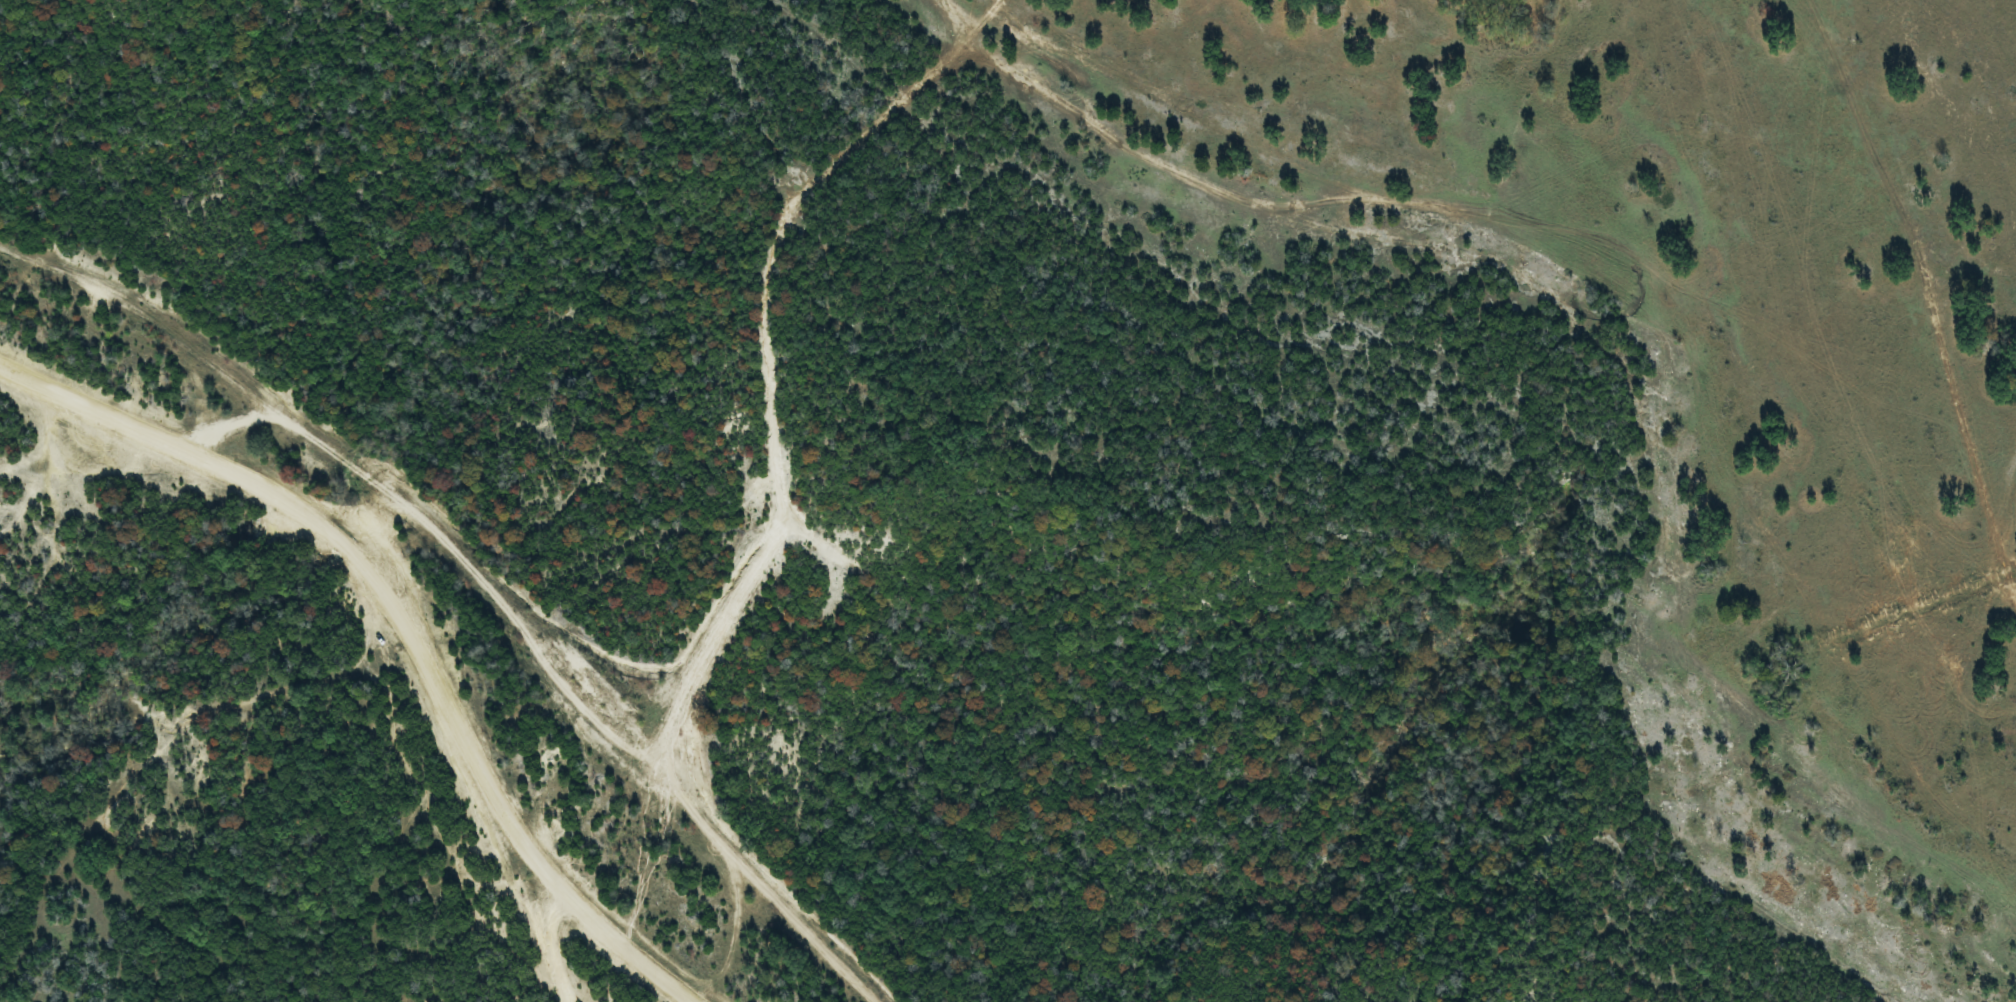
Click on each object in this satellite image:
road: (1926, 237)
road: (402, 623)

